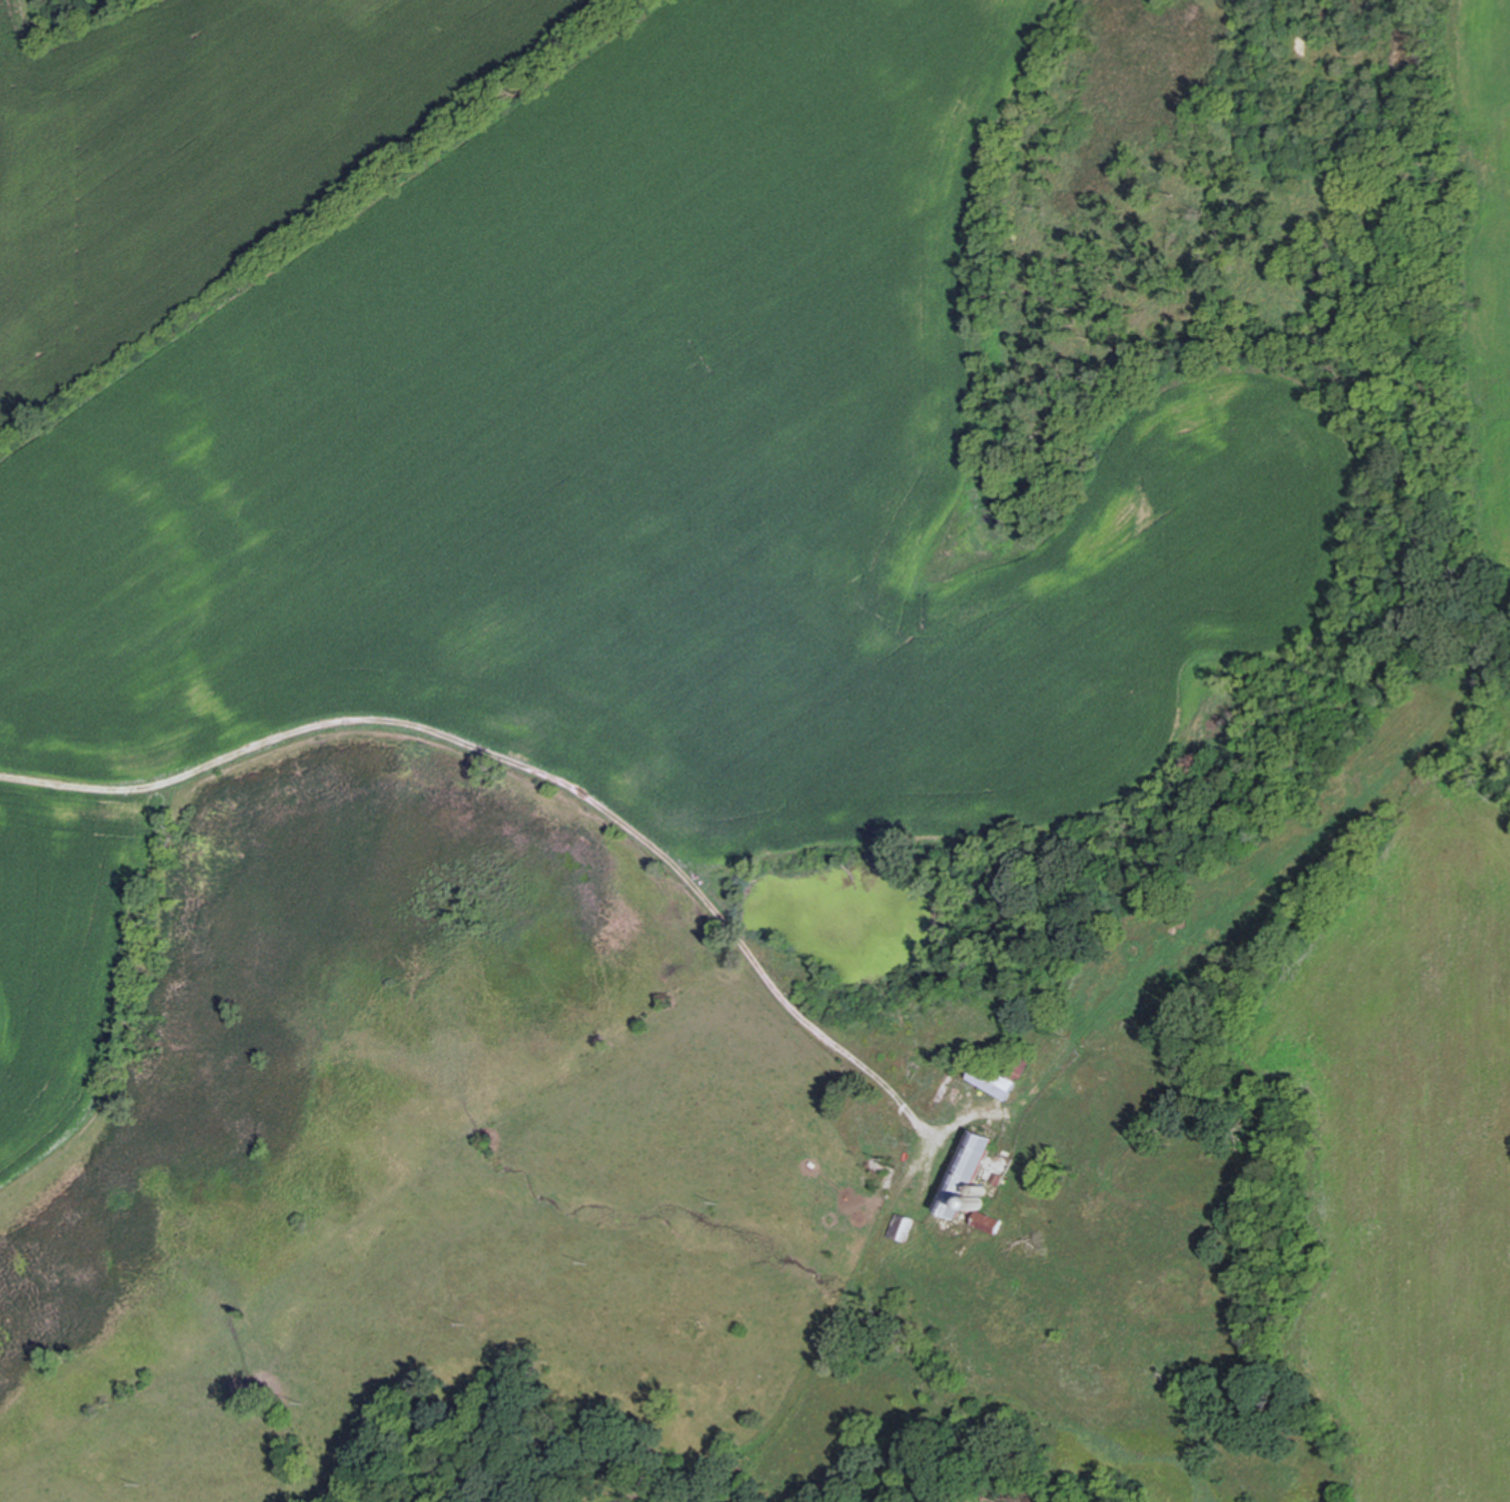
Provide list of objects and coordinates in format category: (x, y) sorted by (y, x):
road: (526, 768)
building: (1012, 1062)
building: (988, 1074)
building: (961, 1172)
building: (994, 1178)
building: (976, 1190)
building: (973, 1202)
building: (984, 1222)
building: (897, 1227)

